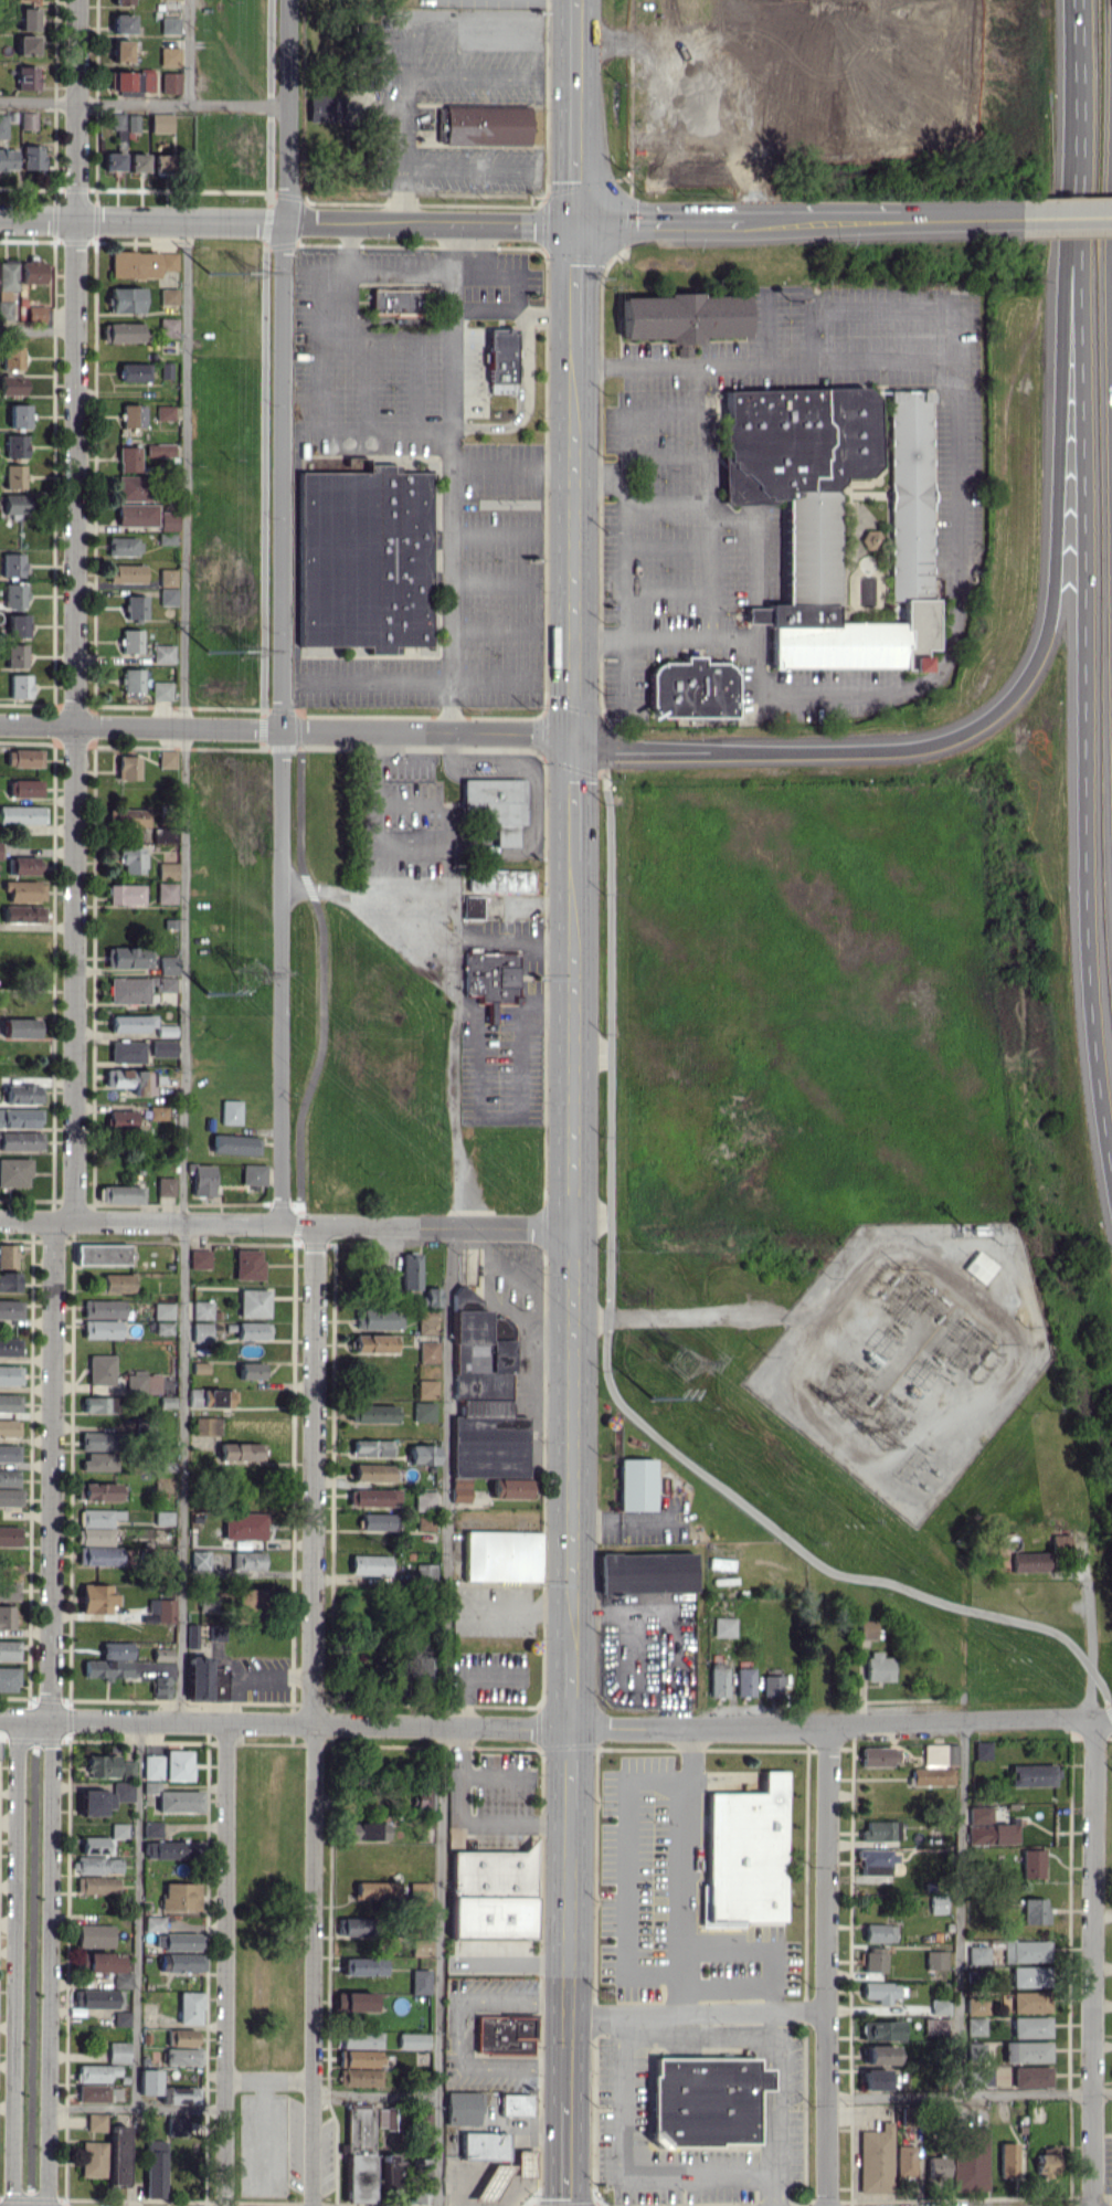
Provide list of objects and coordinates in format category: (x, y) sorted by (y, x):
building: (22, 0)
building: (121, 2)
building: (28, 19)
building: (123, 23)
building: (169, 25)
road: (537, 29)
building: (371, 38)
building: (27, 44)
building: (124, 50)
road: (191, 52)
building: (169, 55)
building: (27, 77)
building: (130, 81)
building: (366, 81)
building: (170, 82)
road: (1085, 83)
road: (269, 97)
road: (142, 103)
building: (324, 107)
road: (579, 110)
building: (28, 120)
building: (160, 122)
building: (2, 125)
building: (124, 125)
building: (486, 125)
road: (404, 147)
building: (32, 157)
building: (7, 159)
building: (113, 161)
building: (137, 162)
building: (160, 163)
road: (464, 166)
road: (1049, 213)
road: (942, 215)
road: (808, 218)
road: (266, 219)
road: (289, 220)
road: (648, 221)
traffic signals: (579, 222)
building: (140, 263)
road: (401, 270)
power tower: (251, 271)
building: (32, 272)
power tower: (211, 273)
building: (7, 286)
road: (578, 287)
building: (168, 296)
building: (126, 299)
building: (400, 299)
road: (516, 309)
building: (35, 314)
building: (678, 317)
building: (168, 327)
road: (35, 331)
building: (120, 331)
building: (11, 357)
building: (500, 359)
building: (134, 371)
road: (324, 379)
building: (11, 384)
road: (520, 398)
road: (633, 408)
building: (165, 412)
building: (19, 415)
building: (131, 415)
building: (14, 446)
building: (159, 450)
building: (127, 458)
road: (515, 468)
building: (13, 476)
road: (263, 476)
road: (452, 476)
building: (134, 487)
road: (708, 499)
building: (14, 505)
building: (136, 514)
building: (835, 515)
building: (168, 520)
road: (959, 526)
road: (627, 528)
building: (870, 538)
road: (576, 543)
building: (124, 546)
road: (1053, 550)
building: (364, 558)
building: (11, 564)
building: (125, 573)
building: (167, 587)
building: (14, 595)
building: (135, 606)
road: (72, 608)
road: (284, 610)
building: (18, 625)
building: (130, 641)
power tower: (248, 648)
power tower: (209, 651)
building: (162, 653)
building: (15, 655)
road: (1085, 669)
building: (131, 679)
building: (19, 685)
building: (691, 688)
building: (160, 690)
road: (263, 719)
road: (131, 726)
road: (419, 731)
traffic signals: (576, 735)
road: (262, 738)
road: (279, 748)
road: (684, 748)
building: (23, 758)
building: (167, 758)
building: (128, 767)
road: (517, 768)
building: (24, 788)
road: (575, 790)
road: (403, 804)
building: (21, 814)
building: (128, 816)
building: (165, 835)
road: (396, 847)
building: (0, 848)
building: (130, 859)
building: (22, 865)
building: (167, 870)
building: (499, 879)
building: (24, 890)
building: (166, 893)
building: (125, 894)
building: (470, 907)
building: (22, 914)
road: (485, 936)
building: (126, 957)
building: (168, 964)
road: (182, 969)
power tower: (247, 974)
building: (490, 977)
road: (322, 983)
building: (138, 988)
power tower: (208, 993)
road: (455, 1003)
building: (130, 1023)
building: (20, 1027)
building: (162, 1047)
building: (126, 1052)
building: (131, 1079)
building: (22, 1094)
building: (157, 1112)
road: (516, 1117)
building: (20, 1118)
building: (121, 1120)
building: (20, 1140)
building: (235, 1144)
building: (14, 1172)
building: (254, 1174)
building: (202, 1180)
building: (165, 1185)
building: (120, 1194)
road: (226, 1218)
road: (512, 1223)
building: (102, 1254)
building: (8, 1255)
building: (199, 1258)
building: (247, 1264)
building: (978, 1266)
building: (410, 1270)
building: (9, 1281)
building: (117, 1283)
road: (571, 1286)
building: (253, 1302)
building: (103, 1308)
building: (10, 1309)
building: (202, 1309)
building: (163, 1310)
road: (677, 1315)
building: (378, 1318)
building: (426, 1321)
building: (163, 1328)
building: (100, 1329)
building: (252, 1330)
building: (201, 1331)
building: (373, 1343)
building: (10, 1345)
building: (427, 1351)
power substation: (912, 1354)
road: (605, 1363)
power tower: (681, 1363)
building: (100, 1369)
building: (251, 1370)
building: (10, 1375)
building: (142, 1383)
building: (426, 1389)
power tower: (652, 1396)
building: (214, 1397)
building: (10, 1402)
building: (99, 1404)
building: (485, 1410)
building: (423, 1411)
building: (372, 1413)
building: (206, 1426)
building: (9, 1427)
building: (102, 1440)
building: (372, 1447)
building: (241, 1452)
building: (9, 1453)
building: (423, 1454)
building: (99, 1461)
road: (54, 1467)
building: (372, 1473)
building: (9, 1477)
building: (635, 1484)
building: (97, 1491)
building: (10, 1497)
building: (373, 1497)
building: (424, 1500)
building: (163, 1517)
building: (375, 1521)
building: (424, 1522)
building: (96, 1526)
building: (243, 1526)
building: (9, 1535)
building: (502, 1552)
building: (98, 1555)
building: (199, 1560)
building: (246, 1560)
building: (1028, 1561)
building: (370, 1564)
building: (9, 1572)
building: (424, 1572)
building: (645, 1572)
building: (8, 1591)
building: (96, 1598)
building: (205, 1600)
building: (248, 1605)
road: (517, 1606)
building: (161, 1608)
building: (7, 1616)
building: (723, 1626)
building: (868, 1628)
road: (701, 1634)
building: (192, 1635)
building: (9, 1649)
building: (161, 1654)
building: (112, 1661)
building: (878, 1666)
building: (424, 1667)
building: (9, 1679)
building: (718, 1679)
building: (204, 1680)
building: (744, 1681)
building: (771, 1685)
building: (161, 1687)
road: (1111, 1706)
road: (314, 1713)
road: (444, 1713)
road: (284, 1721)
road: (840, 1721)
building: (983, 1750)
building: (880, 1756)
building: (178, 1764)
building: (103, 1765)
building: (938, 1765)
building: (152, 1766)
building: (127, 1770)
road: (570, 1773)
building: (1034, 1775)
building: (105, 1798)
building: (421, 1799)
building: (989, 1827)
building: (152, 1829)
building: (881, 1829)
building: (367, 1830)
building: (104, 1840)
building: (174, 1849)
building: (748, 1854)
building: (1034, 1862)
building: (99, 1865)
road: (684, 1867)
road: (628, 1871)
building: (97, 1885)
building: (373, 1890)
road: (1095, 1891)
building: (420, 1893)
building: (494, 1893)
building: (181, 1896)
building: (940, 1903)
road: (963, 1907)
building: (1036, 1910)
road: (138, 1914)
building: (155, 1923)
building: (356, 1925)
building: (881, 1932)
building: (96, 1934)
building: (179, 1941)
building: (423, 1941)
building: (1028, 1951)
road: (754, 1952)
building: (979, 1954)
road: (569, 1956)
building: (938, 1959)
building: (877, 1960)
road: (18, 1961)
road: (51, 1961)
building: (183, 1962)
road: (226, 1963)
road: (828, 1963)
building: (367, 1965)
building: (106, 1966)
building: (1031, 1976)
building: (422, 1981)
building: (98, 1998)
building: (354, 2002)
building: (979, 2005)
building: (942, 2006)
building: (191, 2007)
road: (698, 2009)
building: (123, 2018)
building: (938, 2026)
building: (978, 2026)
building: (1032, 2026)
building: (883, 2029)
road: (464, 2030)
building: (505, 2034)
building: (182, 2037)
building: (361, 2039)
building: (414, 2040)
building: (978, 2050)
building: (119, 2051)
building: (1028, 2051)
building: (882, 2054)
building: (184, 2056)
building: (360, 2067)
building: (97, 2072)
building: (1034, 2076)
building: (982, 2078)
building: (877, 2079)
building: (167, 2088)
road: (780, 2091)
road: (971, 2094)
building: (706, 2100)
building: (516, 2103)
building: (465, 2107)
road: (138, 2110)
building: (390, 2118)
building: (97, 2122)
building: (178, 2125)
parking lot: (271, 2141)
building: (486, 2146)
road: (568, 2151)
building: (119, 2154)
building: (361, 2154)
building: (94, 2158)
building: (877, 2158)
building: (972, 2158)
building: (1009, 2160)
building: (907, 2161)
building: (525, 2163)
building: (1048, 2164)
building: (939, 2166)
road: (623, 2167)
building: (156, 2168)
building: (391, 2171)
road: (776, 2189)

